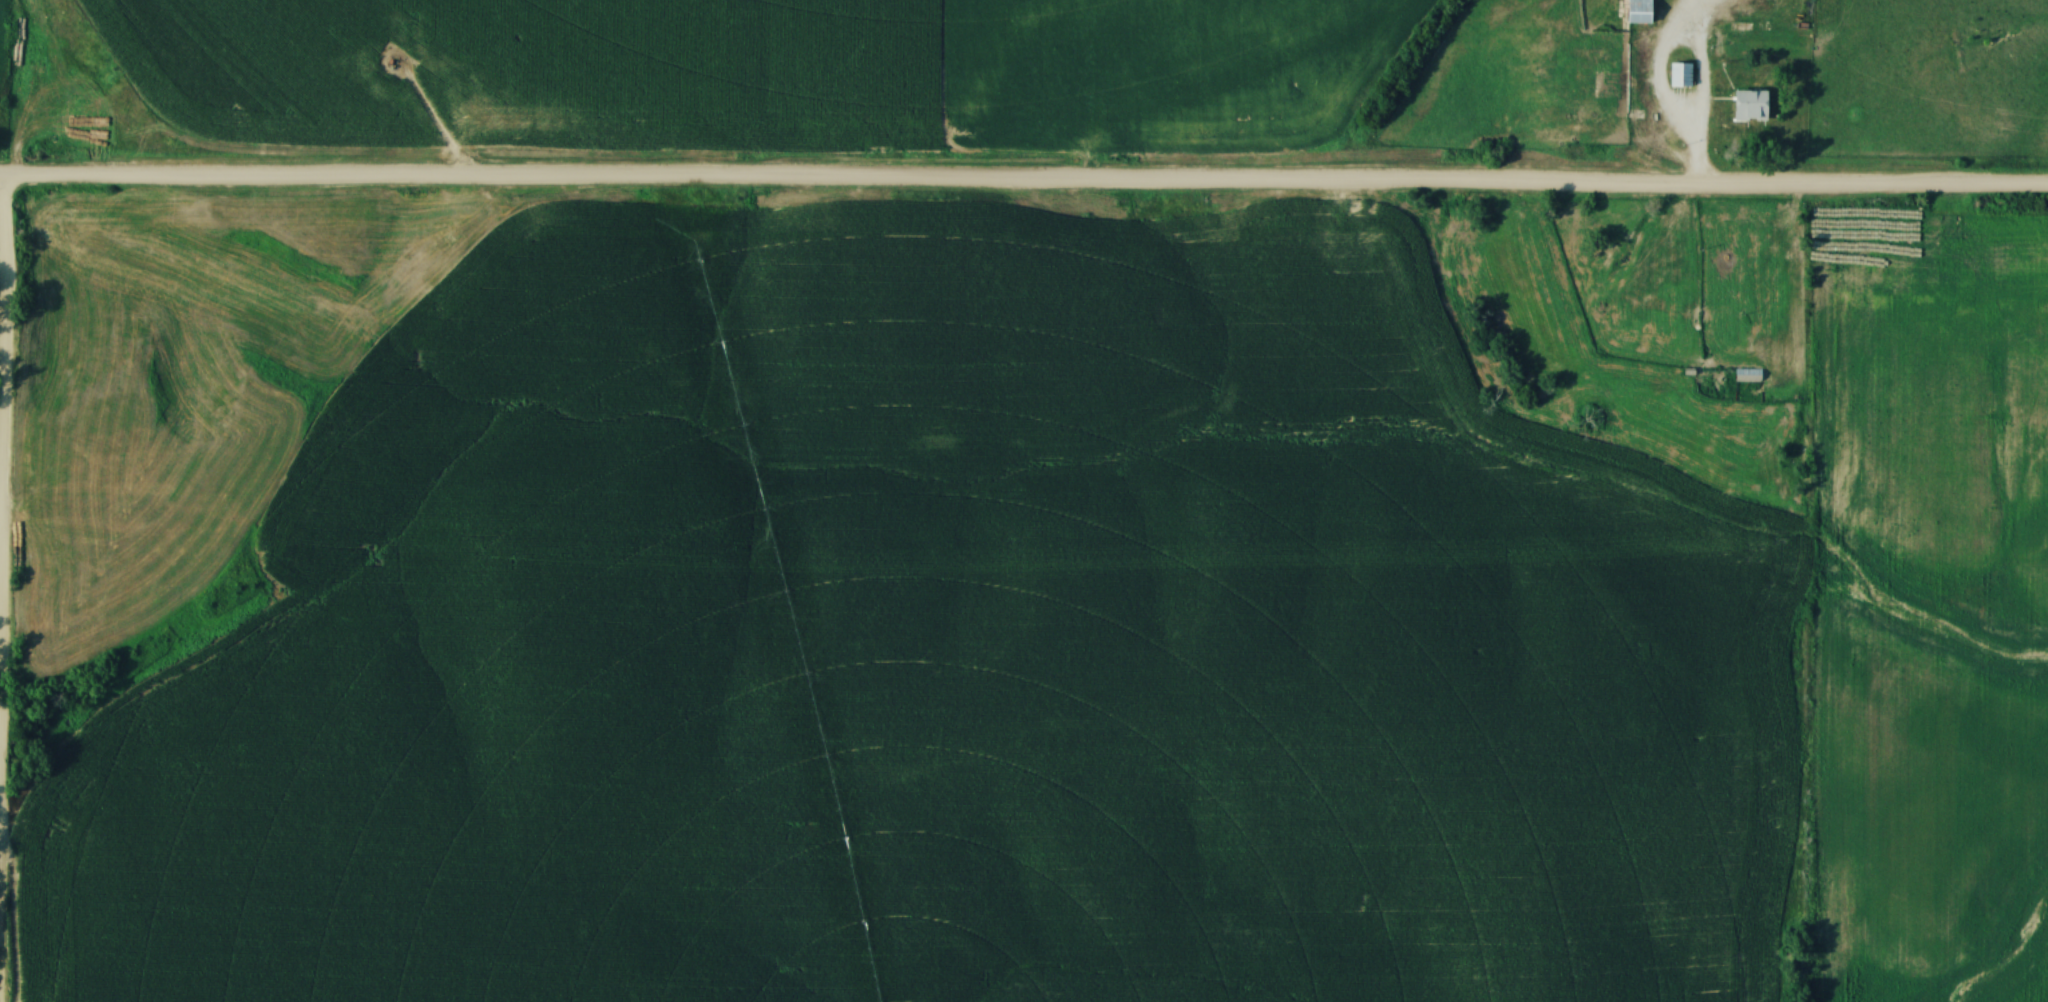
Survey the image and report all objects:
building: (1639, 12)
building: (1680, 76)
building: (1751, 106)
road: (1656, 121)
road: (1024, 187)
road: (3, 344)
building: (1747, 375)

